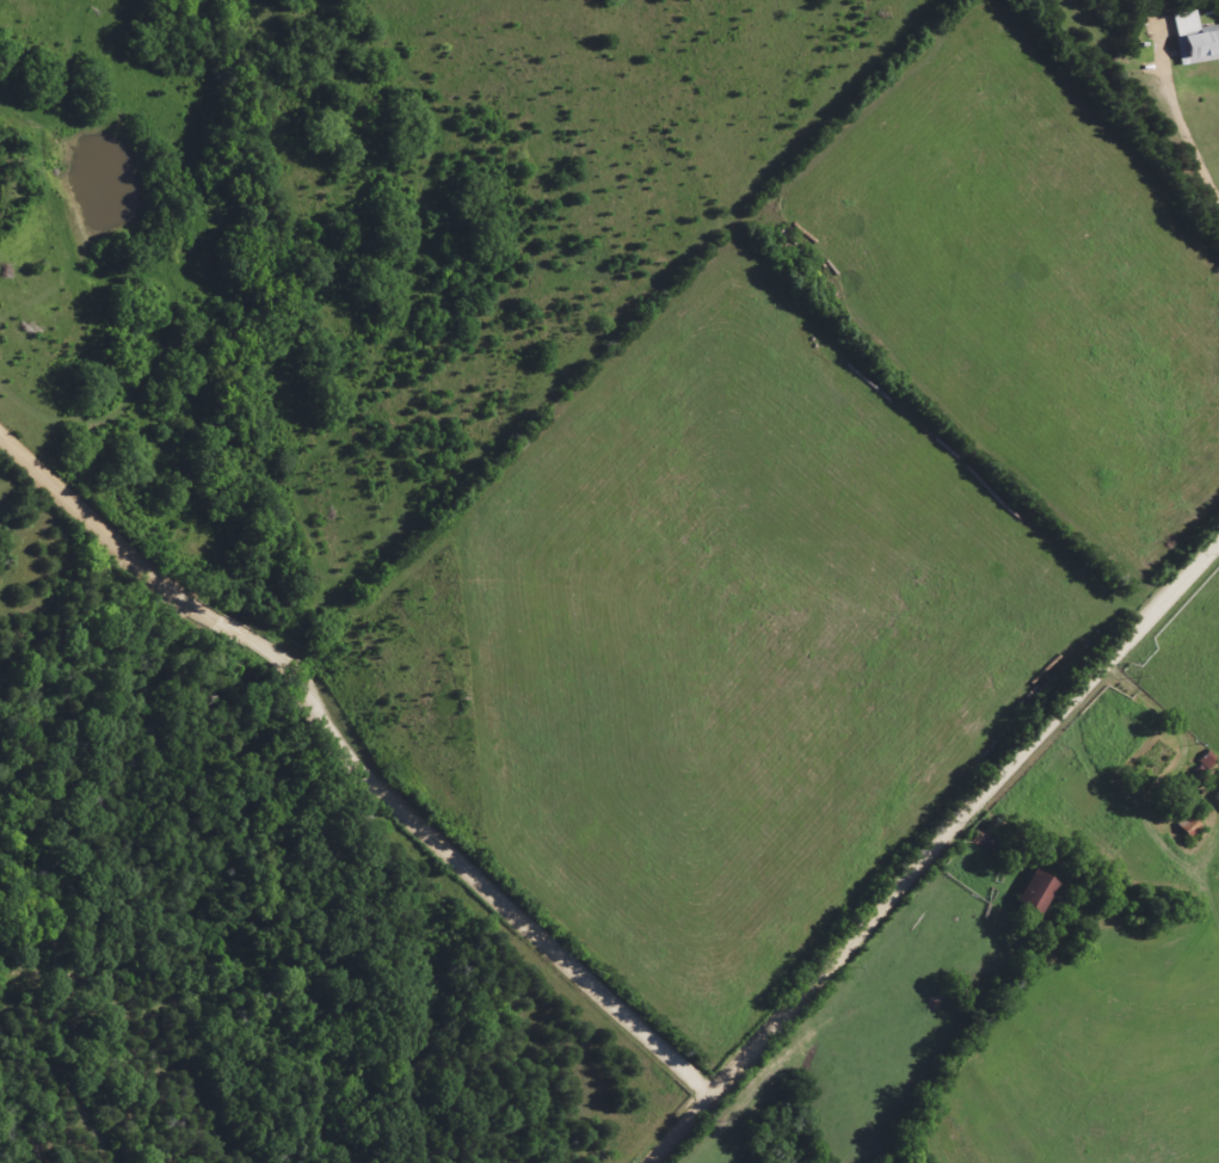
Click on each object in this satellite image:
building: (1192, 41)
road: (1147, 70)
road: (359, 763)
building: (1149, 764)
road: (936, 849)
building: (1029, 894)

